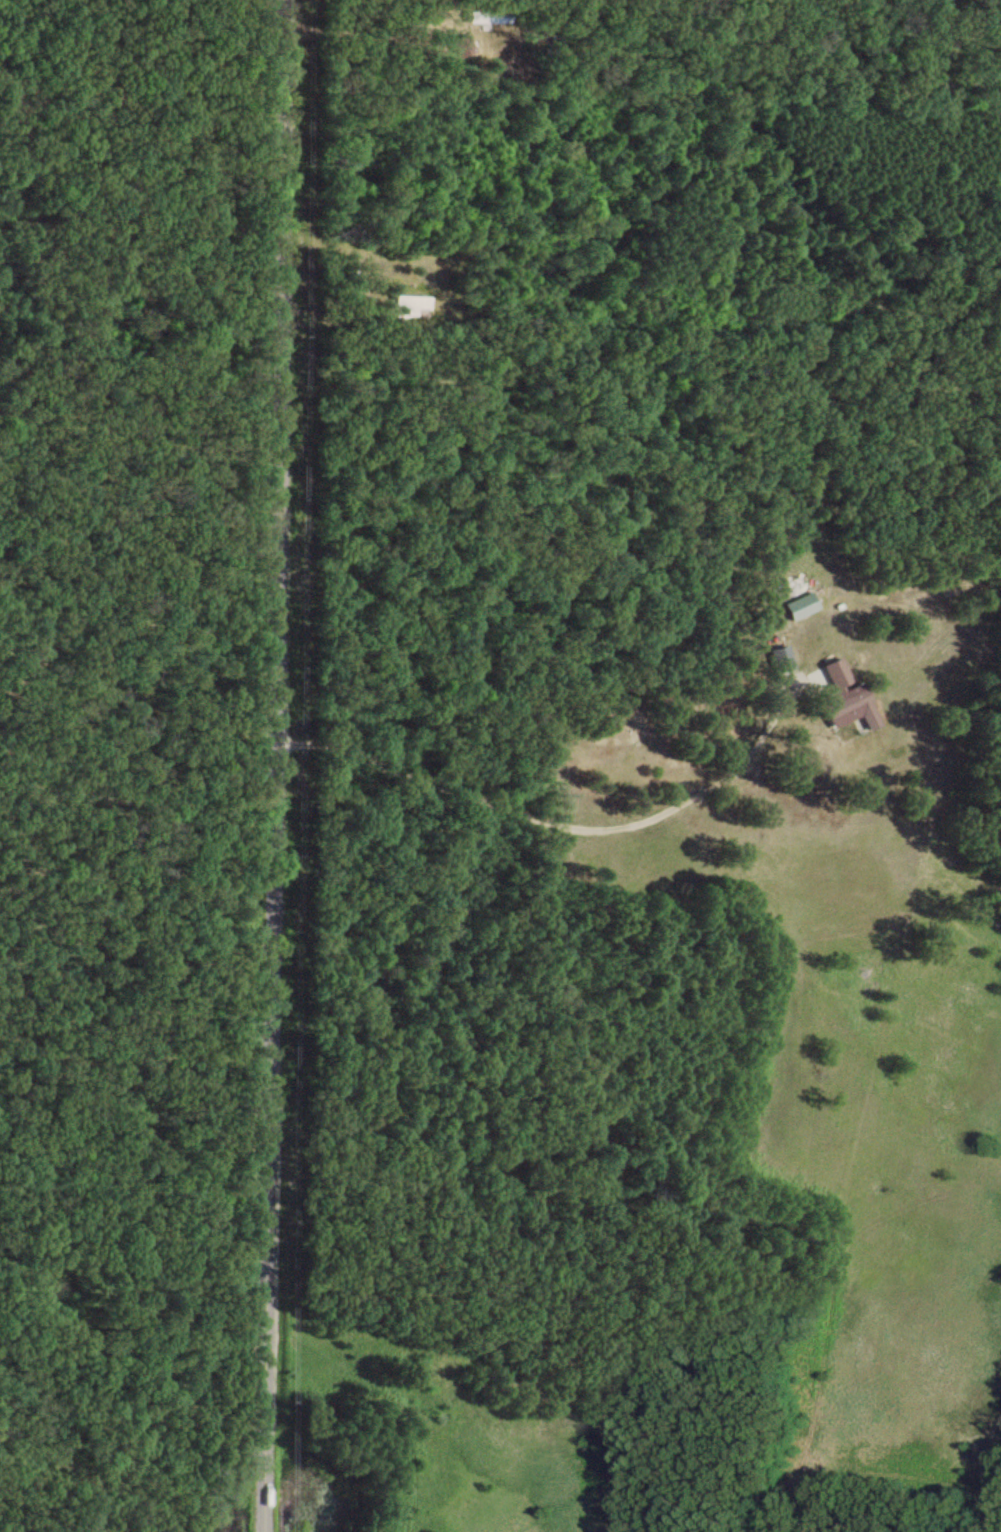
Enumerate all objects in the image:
building: (488, 16)
building: (412, 302)
building: (803, 604)
building: (844, 694)
road: (275, 766)

